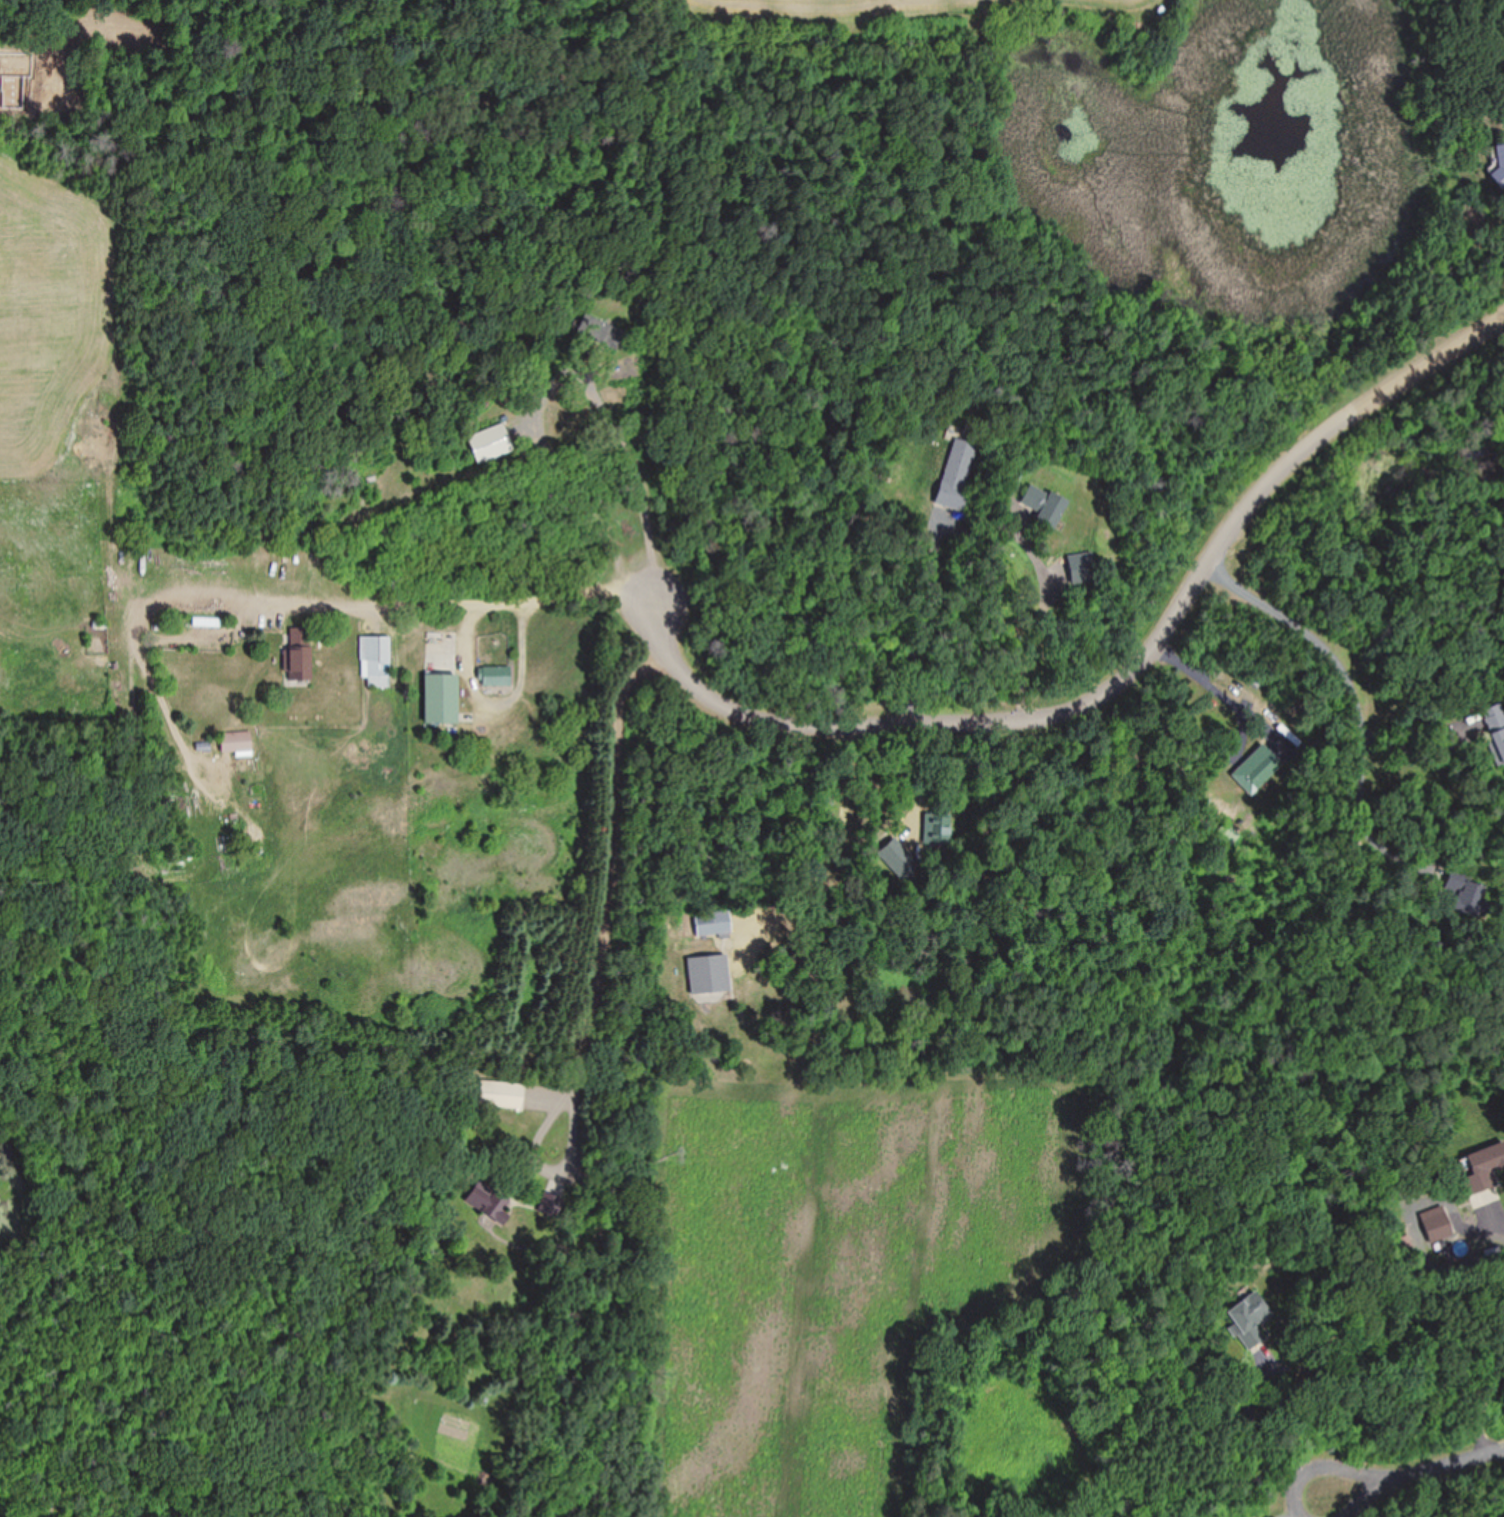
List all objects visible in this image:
building: (1499, 158)
road: (559, 374)
building: (490, 444)
building: (954, 473)
building: (1042, 504)
building: (1080, 565)
road: (301, 598)
building: (297, 653)
building: (374, 658)
road: (1124, 673)
building: (494, 675)
road: (1350, 683)
building: (438, 697)
building: (1495, 725)
building: (234, 740)
road: (1410, 743)
building: (1253, 767)
building: (935, 828)
building: (1465, 894)
building: (712, 922)
building: (708, 973)
building: (498, 1093)
building: (1481, 1164)
building: (549, 1203)
road: (1500, 1211)
building: (1434, 1223)
building: (1247, 1318)
road: (1483, 1395)
road: (1453, 1460)
road: (1363, 1468)
road: (1270, 1510)

